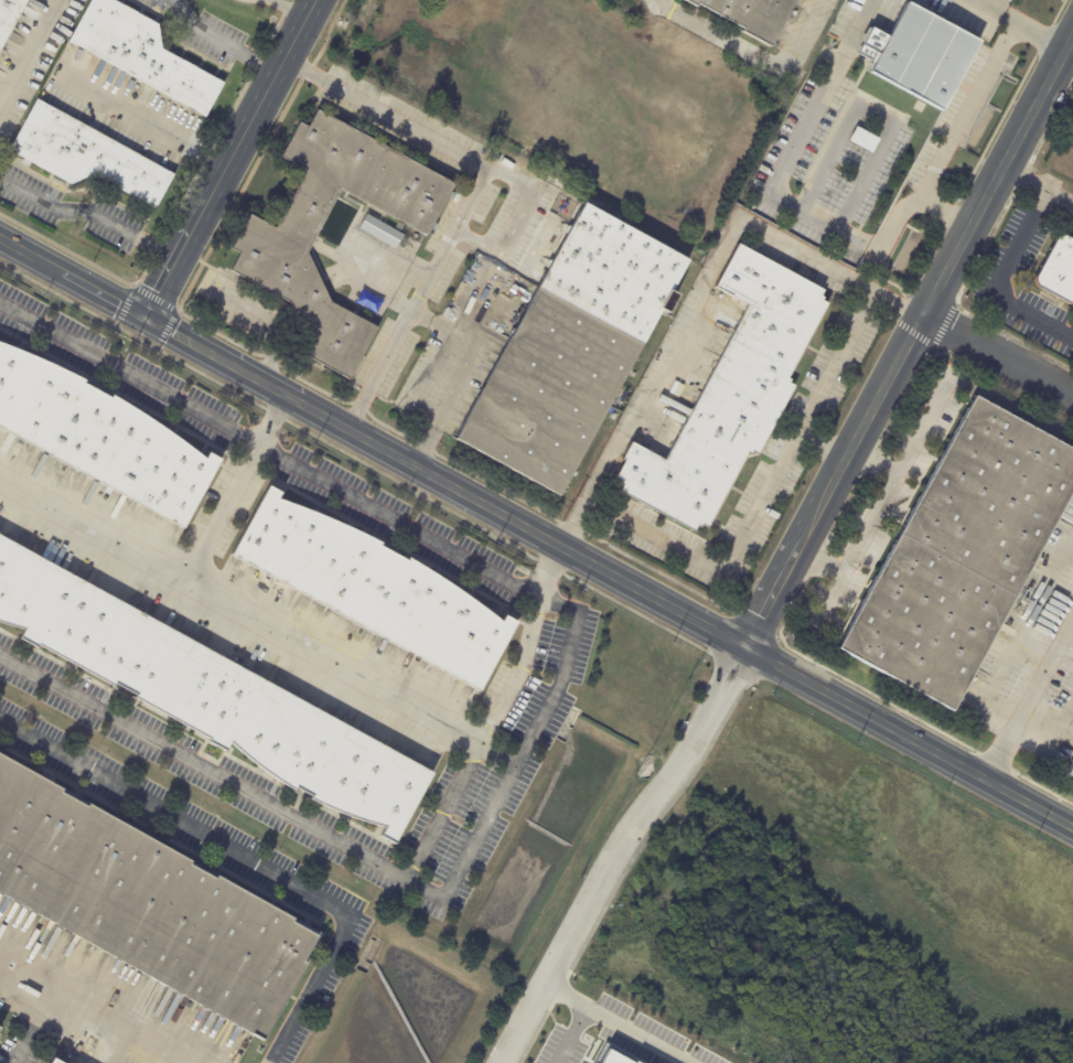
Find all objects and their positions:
road: (988, 7)
building: (751, 15)
building: (10, 19)
road: (301, 24)
road: (1034, 33)
road: (219, 43)
road: (28, 53)
road: (1071, 54)
road: (757, 55)
building: (147, 56)
building: (918, 58)
road: (282, 61)
road: (966, 111)
road: (147, 120)
road: (793, 141)
road: (235, 149)
building: (90, 160)
road: (1039, 185)
building: (457, 196)
road: (911, 202)
road: (93, 213)
road: (521, 214)
building: (379, 230)
building: (279, 240)
building: (1058, 270)
road: (170, 271)
road: (1000, 279)
road: (416, 296)
road: (696, 296)
building: (731, 313)
traffic signals: (146, 318)
road: (269, 325)
road: (908, 344)
building: (572, 350)
road: (998, 351)
road: (822, 385)
building: (736, 394)
building: (673, 418)
building: (101, 437)
road: (914, 437)
road: (875, 460)
road: (236, 487)
road: (536, 531)
building: (962, 556)
road: (721, 562)
building: (373, 590)
road: (334, 662)
road: (554, 691)
building: (206, 695)
road: (1029, 696)
building: (1070, 773)
road: (443, 809)
road: (619, 850)
road: (249, 858)
building: (144, 904)
road: (101, 1002)
road: (583, 1013)
building: (0, 1021)
building: (1, 1030)
road: (637, 1034)
road: (21, 1054)
building: (618, 1056)
building: (50, 1062)
building: (55, 1062)

